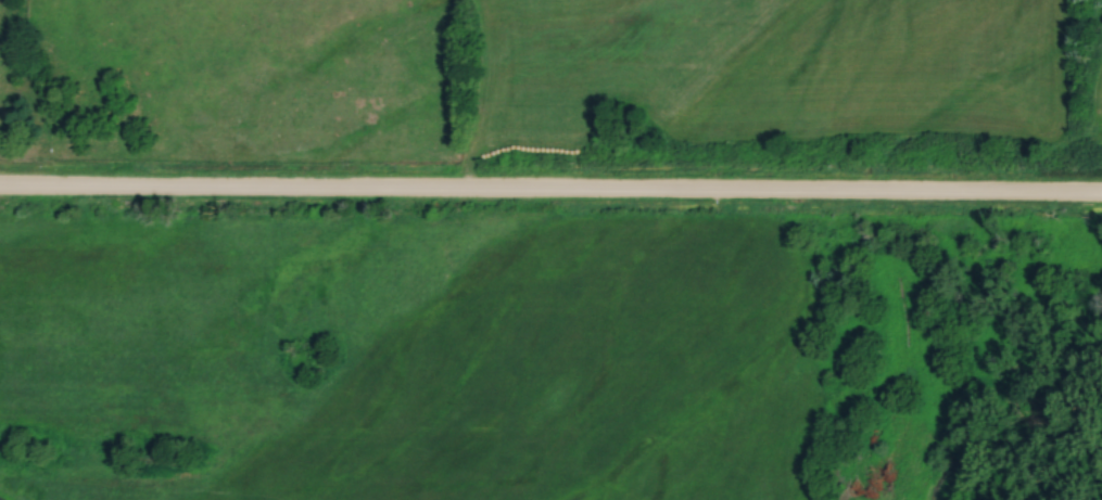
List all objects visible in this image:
building: (11, 40)
building: (550, 148)
road: (550, 195)
river: (999, 396)

